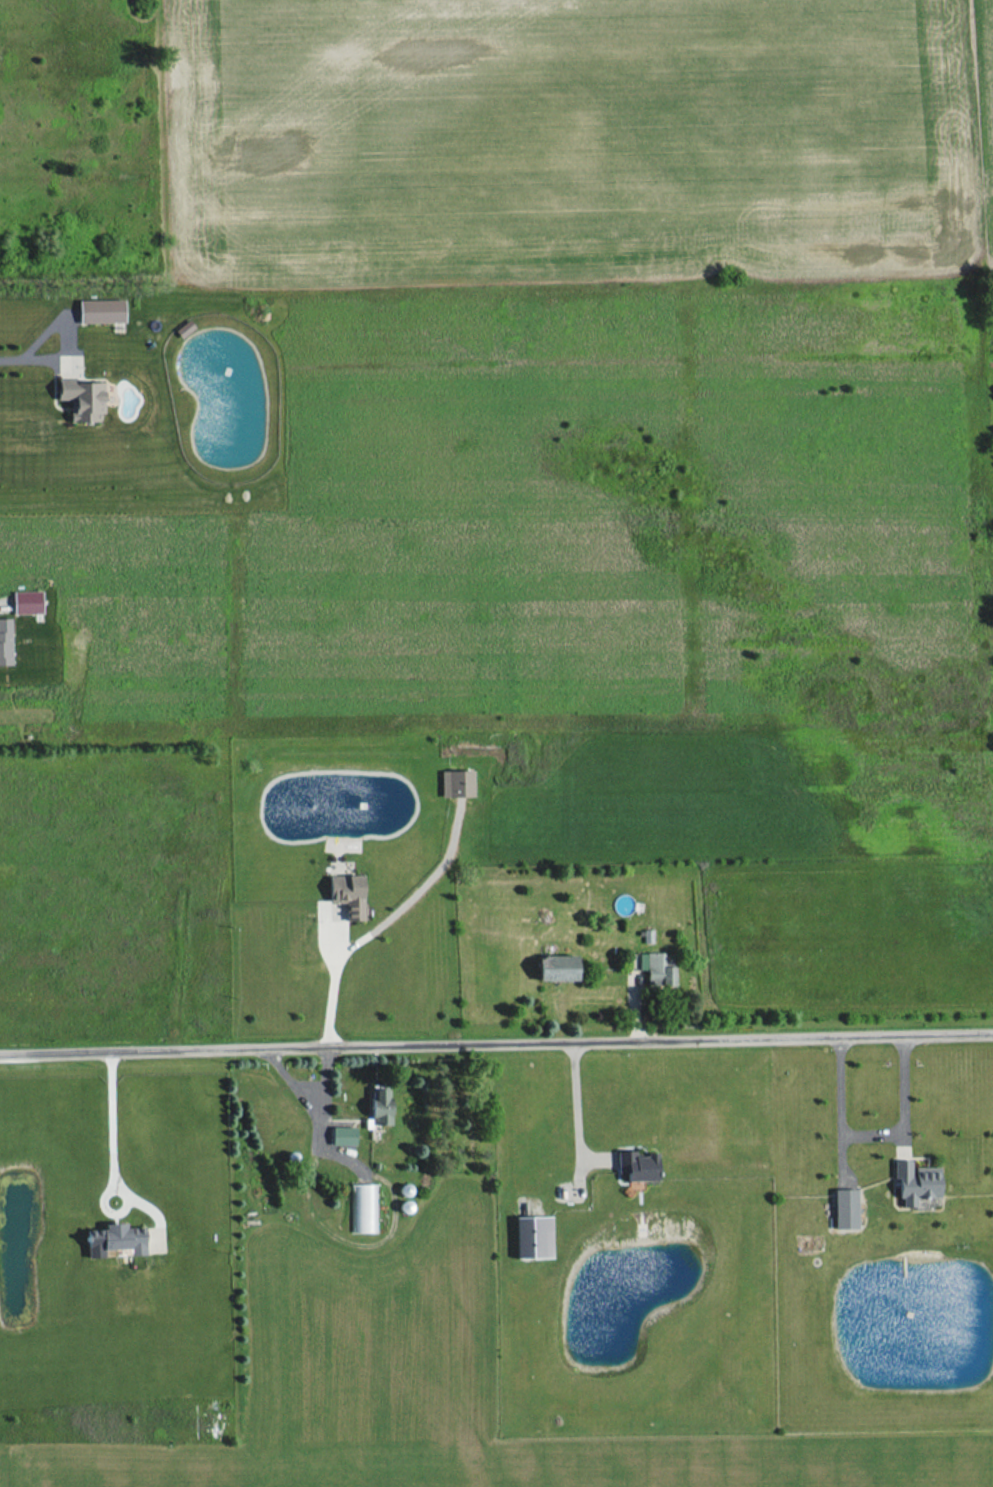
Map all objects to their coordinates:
crop: (987, 109)
crop: (576, 139)
building: (100, 311)
road: (64, 328)
road: (8, 360)
building: (82, 399)
building: (26, 602)
building: (5, 642)
building: (456, 783)
building: (347, 895)
building: (645, 937)
building: (656, 968)
building: (559, 969)
road: (334, 983)
road: (496, 1030)
road: (562, 1090)
building: (379, 1108)
road: (874, 1131)
building: (343, 1136)
road: (115, 1153)
building: (637, 1167)
building: (915, 1183)
building: (360, 1209)
building: (845, 1210)
building: (534, 1238)
building: (115, 1241)

